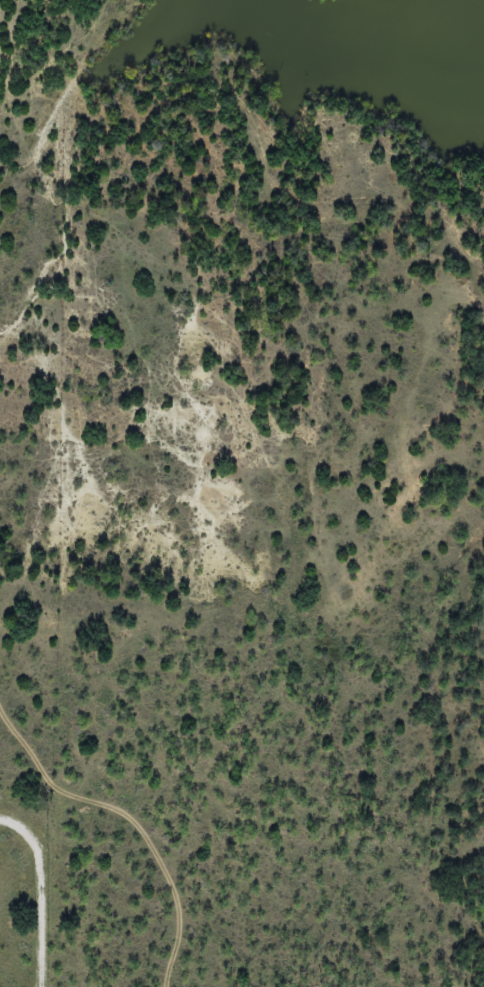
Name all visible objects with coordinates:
river: (361, 71)

